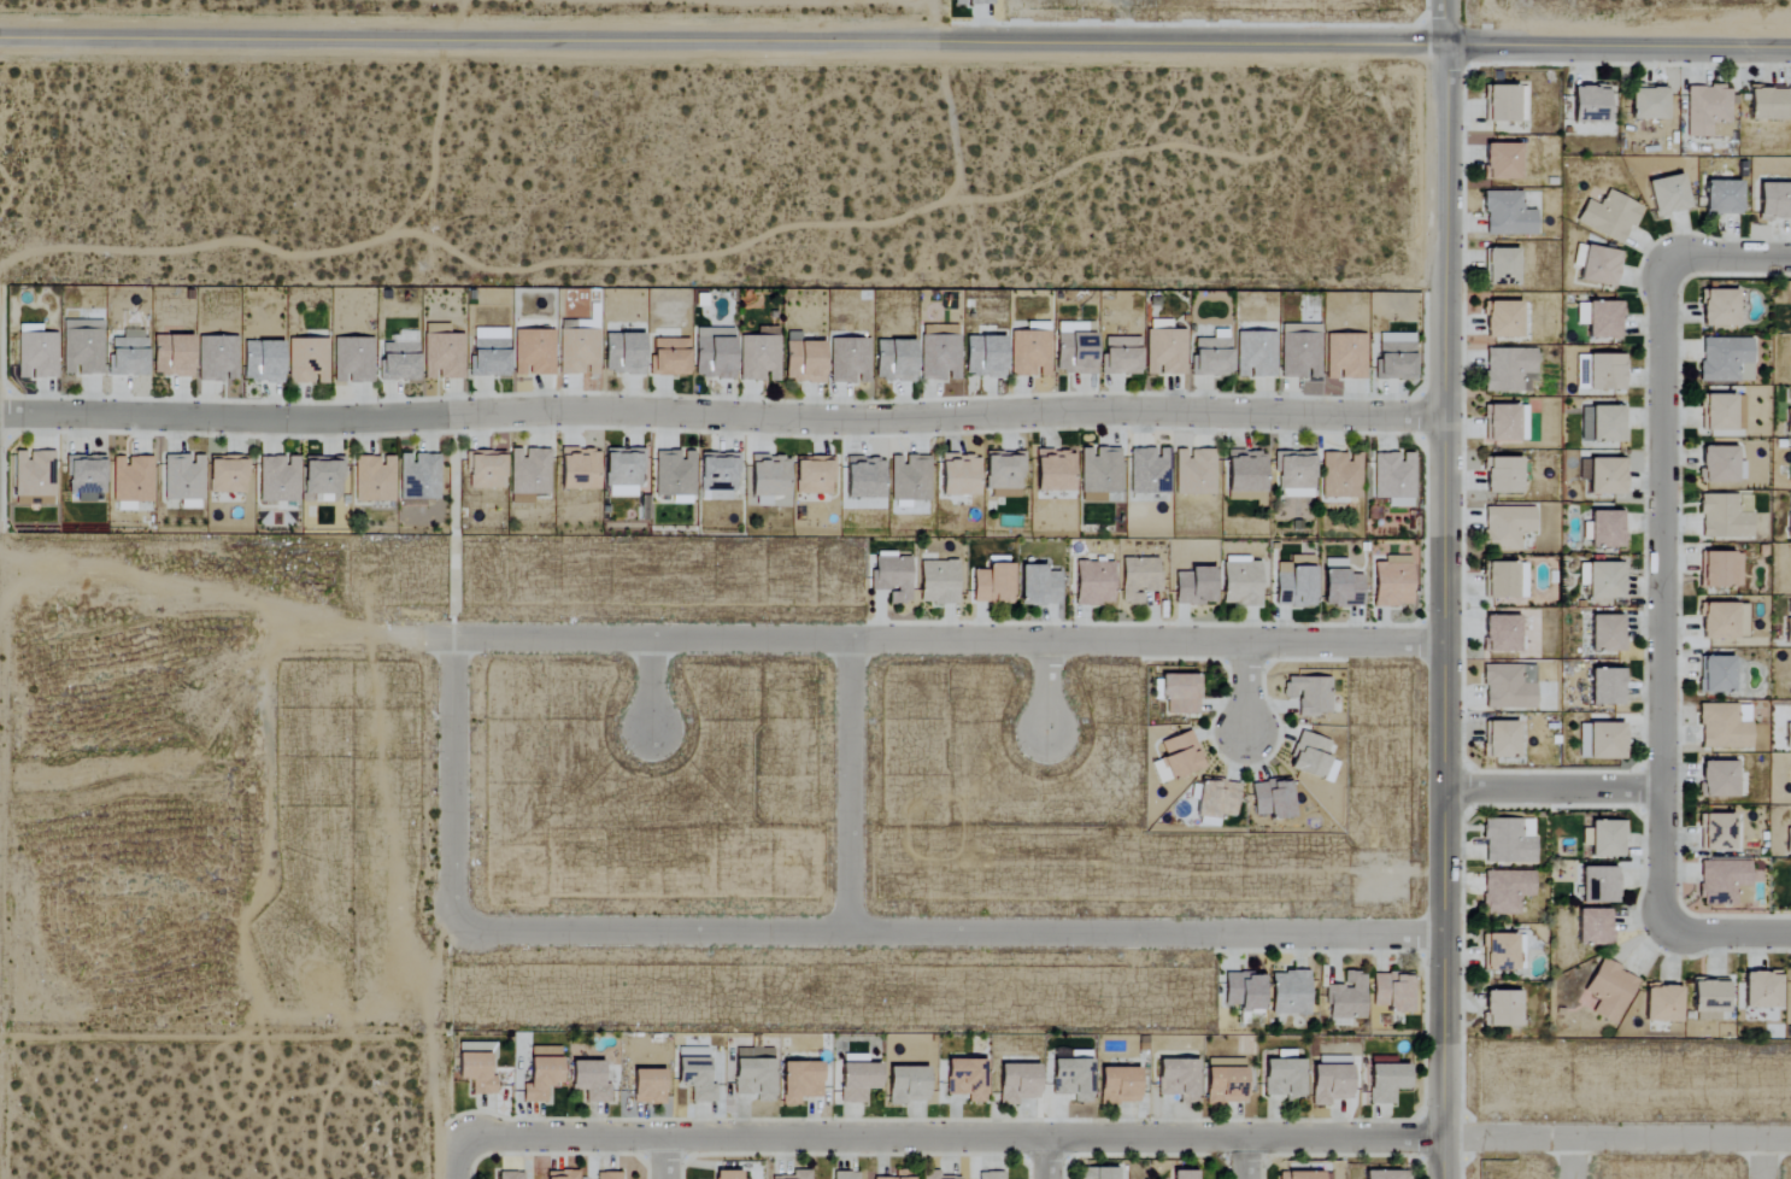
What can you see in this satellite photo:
building: (973, 2)
road: (1444, 23)
road: (895, 41)
building: (1501, 102)
building: (1590, 102)
building: (1648, 102)
building: (1767, 102)
building: (1707, 108)
building: (1720, 129)
building: (1502, 162)
building: (1667, 194)
building: (1722, 196)
building: (1774, 200)
building: (1508, 215)
building: (1609, 216)
road: (1725, 258)
building: (1599, 265)
building: (1502, 266)
building: (1719, 306)
building: (1581, 313)
building: (1502, 318)
building: (1604, 319)
building: (81, 346)
building: (577, 351)
building: (1164, 351)
building: (1299, 351)
building: (488, 352)
building: (533, 352)
building: (712, 352)
building: (128, 353)
building: (622, 353)
building: (1028, 353)
building: (35, 354)
building: (171, 354)
building: (1120, 354)
building: (1211, 354)
building: (1255, 354)
building: (442, 356)
building: (759, 356)
building: (983, 356)
building: (1344, 356)
building: (1394, 356)
building: (398, 357)
building: (669, 357)
building: (938, 357)
building: (216, 358)
building: (1724, 358)
building: (352, 359)
building: (893, 359)
building: (260, 360)
building: (307, 360)
building: (803, 360)
building: (848, 360)
building: (1509, 370)
building: (1605, 371)
building: (1744, 373)
building: (1722, 412)
road: (722, 416)
building: (1789, 421)
building: (1505, 422)
building: (1603, 423)
building: (1720, 464)
building: (574, 467)
building: (486, 470)
building: (1055, 470)
building: (1149, 471)
building: (1194, 471)
building: (623, 473)
building: (674, 473)
building: (84, 474)
building: (528, 474)
building: (1098, 474)
building: (958, 475)
building: (1003, 475)
building: (1294, 475)
building: (1341, 475)
building: (1502, 475)
building: (227, 476)
building: (321, 476)
building: (418, 476)
building: (814, 476)
building: (1246, 476)
building: (1607, 476)
building: (33, 477)
building: (864, 477)
building: (277, 479)
building: (374, 479)
building: (909, 479)
building: (1393, 479)
building: (183, 480)
building: (763, 480)
building: (130, 481)
building: (1790, 515)
building: (1722, 517)
building: (1508, 527)
building: (1607, 528)
building: (1721, 569)
building: (892, 576)
building: (993, 581)
building: (1240, 581)
building: (1296, 581)
building: (1605, 581)
building: (938, 582)
building: (1093, 582)
building: (1392, 582)
building: (1340, 585)
building: (1038, 586)
building: (1194, 586)
road: (209, 593)
road: (1661, 599)
road: (1444, 611)
building: (1722, 620)
building: (1787, 630)
building: (1502, 633)
building: (1607, 633)
road: (928, 640)
building: (1527, 674)
building: (1716, 674)
road: (652, 684)
building: (1607, 686)
road: (1045, 687)
road: (1245, 688)
building: (1507, 688)
building: (1181, 693)
building: (1309, 694)
building: (1722, 728)
building: (1787, 735)
building: (1501, 739)
building: (1602, 740)
building: (1180, 755)
building: (1313, 757)
building: (1717, 779)
road: (454, 784)
road: (850, 786)
road: (1551, 790)
building: (1272, 798)
building: (1216, 800)
building: (1716, 832)
building: (1607, 839)
building: (1509, 840)
building: (1789, 840)
building: (1725, 882)
building: (1598, 885)
building: (1507, 891)
building: (1595, 926)
road: (947, 933)
road: (1730, 934)
building: (1499, 952)
building: (1762, 990)
building: (1244, 991)
building: (1610, 991)
building: (1392, 992)
building: (1290, 993)
building: (1346, 999)
building: (1710, 999)
building: (1663, 1003)
building: (1502, 1009)
building: (475, 1073)
building: (541, 1073)
building: (753, 1073)
building: (965, 1079)
building: (1071, 1079)
building: (1178, 1079)
building: (1331, 1079)
building: (588, 1080)
building: (1225, 1080)
building: (1284, 1080)
building: (799, 1081)
building: (857, 1081)
building: (1386, 1083)
building: (906, 1084)
building: (1017, 1084)
building: (1118, 1085)
building: (647, 1086)
road: (952, 1140)
road: (1615, 1140)
road: (458, 1157)
road: (663, 1160)
road: (1045, 1160)
road: (1246, 1160)
road: (1575, 1160)
road: (1764, 1160)
building: (1098, 1173)
building: (560, 1174)
building: (727, 1174)
building: (1184, 1174)
building: (1386, 1174)
building: (507, 1175)
building: (607, 1175)
building: (795, 1175)
building: (845, 1175)
building: (900, 1175)
building: (934, 1175)
building: (991, 1175)
building: (1304, 1175)

